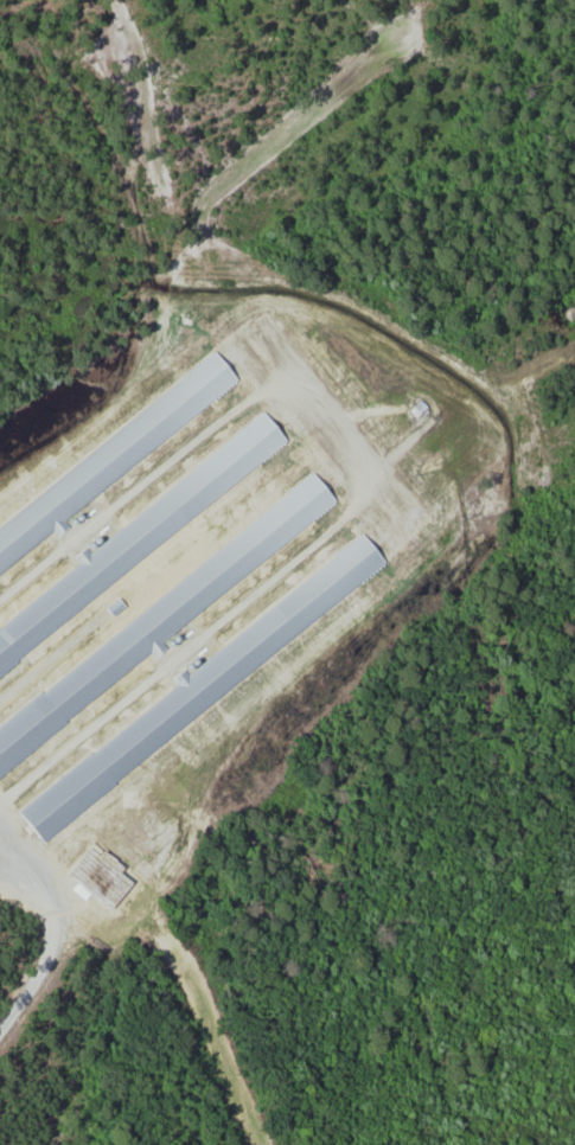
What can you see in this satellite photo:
building: (100, 876)

